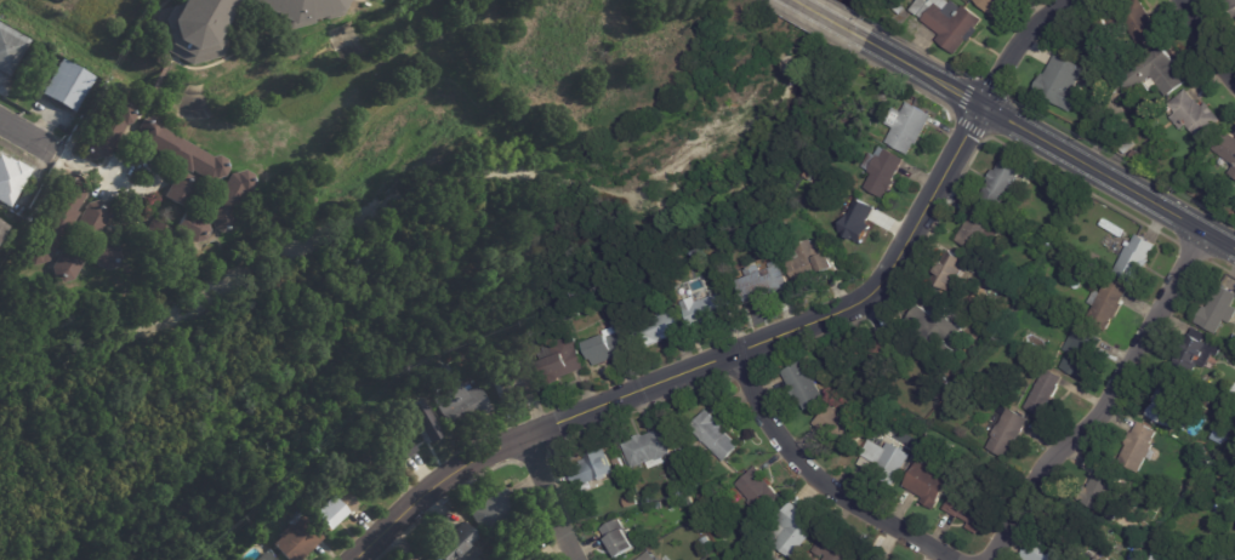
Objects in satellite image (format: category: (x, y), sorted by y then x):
road: (762, 2)
building: (992, 6)
building: (1230, 6)
building: (300, 10)
road: (829, 19)
building: (947, 23)
building: (1128, 27)
building: (190, 28)
road: (810, 30)
road: (1207, 41)
building: (10, 48)
building: (1155, 74)
building: (64, 84)
building: (1060, 84)
building: (1193, 116)
building: (907, 127)
building: (107, 131)
road: (28, 137)
road: (1049, 147)
building: (1127, 148)
building: (180, 150)
building: (1227, 155)
building: (1137, 158)
building: (882, 171)
building: (809, 177)
road: (107, 179)
building: (10, 181)
building: (1000, 183)
building: (180, 189)
building: (1190, 189)
building: (1216, 189)
building: (228, 199)
building: (790, 204)
building: (91, 217)
building: (855, 219)
building: (56, 221)
building: (821, 221)
building: (979, 225)
building: (0, 227)
building: (189, 227)
building: (147, 235)
building: (101, 253)
building: (698, 255)
building: (1134, 259)
building: (66, 262)
building: (808, 262)
building: (950, 270)
building: (762, 280)
building: (1071, 284)
building: (1104, 305)
building: (708, 309)
building: (1217, 310)
building: (620, 320)
building: (659, 328)
building: (934, 328)
building: (1233, 337)
road: (766, 341)
building: (605, 345)
building: (882, 349)
building: (1079, 352)
building: (1195, 353)
building: (558, 361)
building: (520, 370)
building: (502, 385)
building: (803, 385)
building: (1043, 393)
building: (416, 399)
building: (1167, 399)
building: (465, 404)
road: (1102, 406)
building: (420, 419)
building: (840, 429)
building: (1007, 434)
building: (412, 435)
building: (715, 435)
building: (1138, 447)
building: (398, 448)
building: (647, 450)
building: (685, 457)
building: (364, 458)
building: (886, 459)
building: (617, 464)
building: (591, 473)
building: (701, 475)
road: (820, 479)
building: (929, 482)
building: (683, 486)
building: (1098, 487)
building: (757, 491)
road: (550, 497)
building: (1234, 497)
building: (688, 502)
building: (701, 504)
building: (332, 507)
building: (968, 509)
building: (494, 512)
building: (688, 530)
building: (791, 531)
building: (296, 538)
building: (619, 538)
building: (460, 547)
building: (832, 548)
building: (1042, 552)
building: (1136, 554)
building: (263, 556)
building: (648, 556)
building: (773, 558)
building: (1154, 558)
building: (426, 559)
building: (735, 559)
building: (867, 559)
building: (1092, 559)
building: (1098, 559)
building: (1186, 559)

